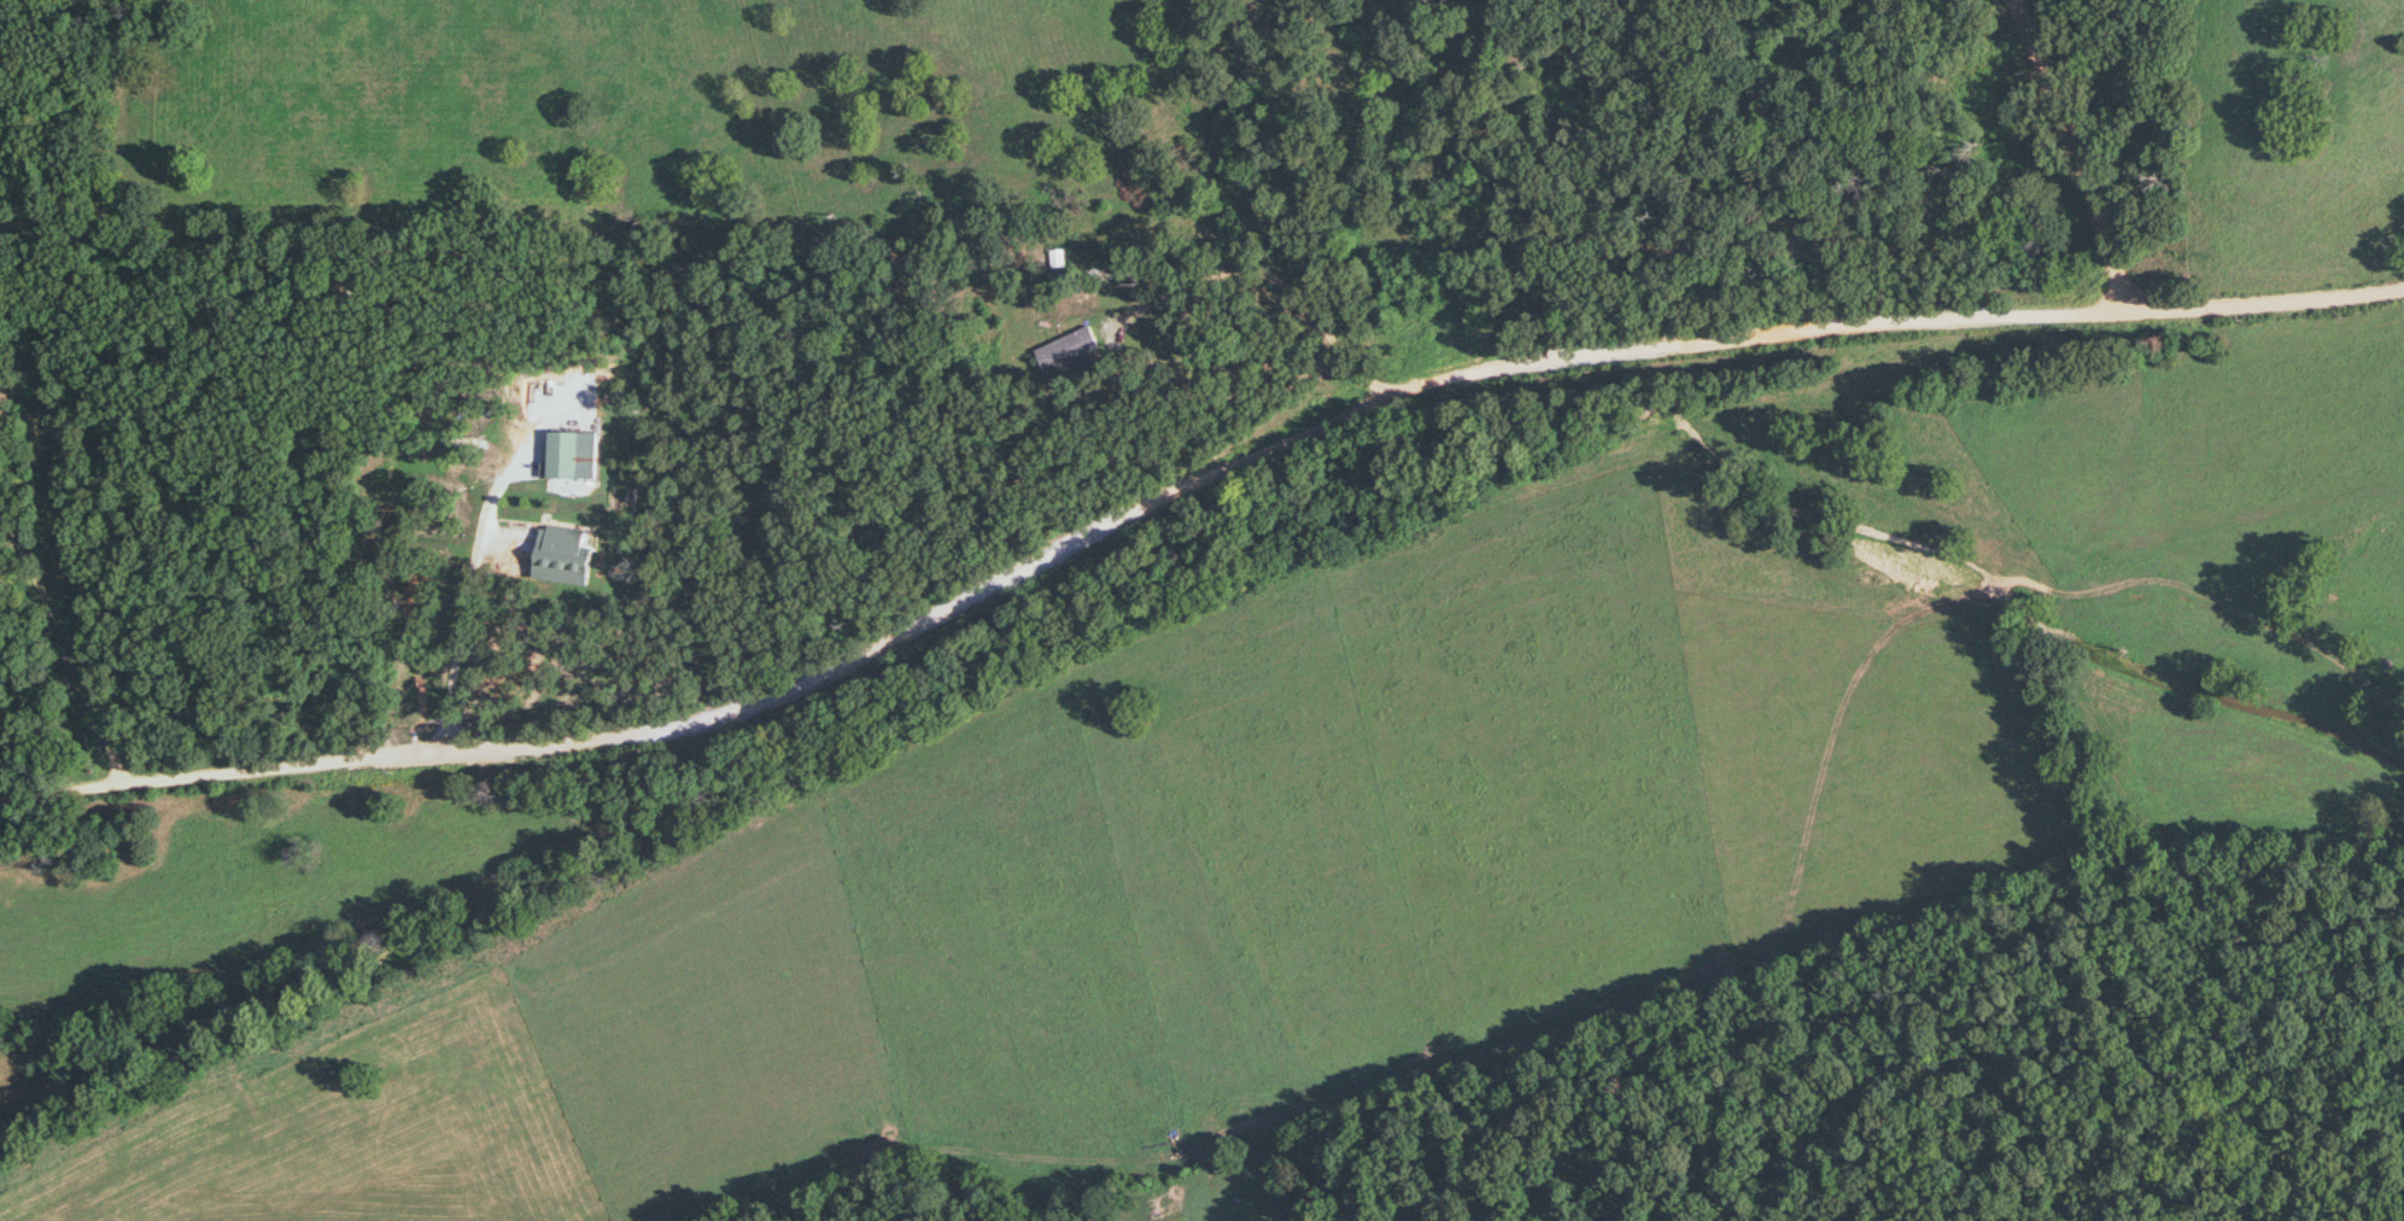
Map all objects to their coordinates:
road: (2065, 153)
road: (1238, 290)
road: (2262, 304)
building: (1074, 350)
building: (569, 456)
road: (1054, 539)
road: (467, 598)
road: (64, 652)

